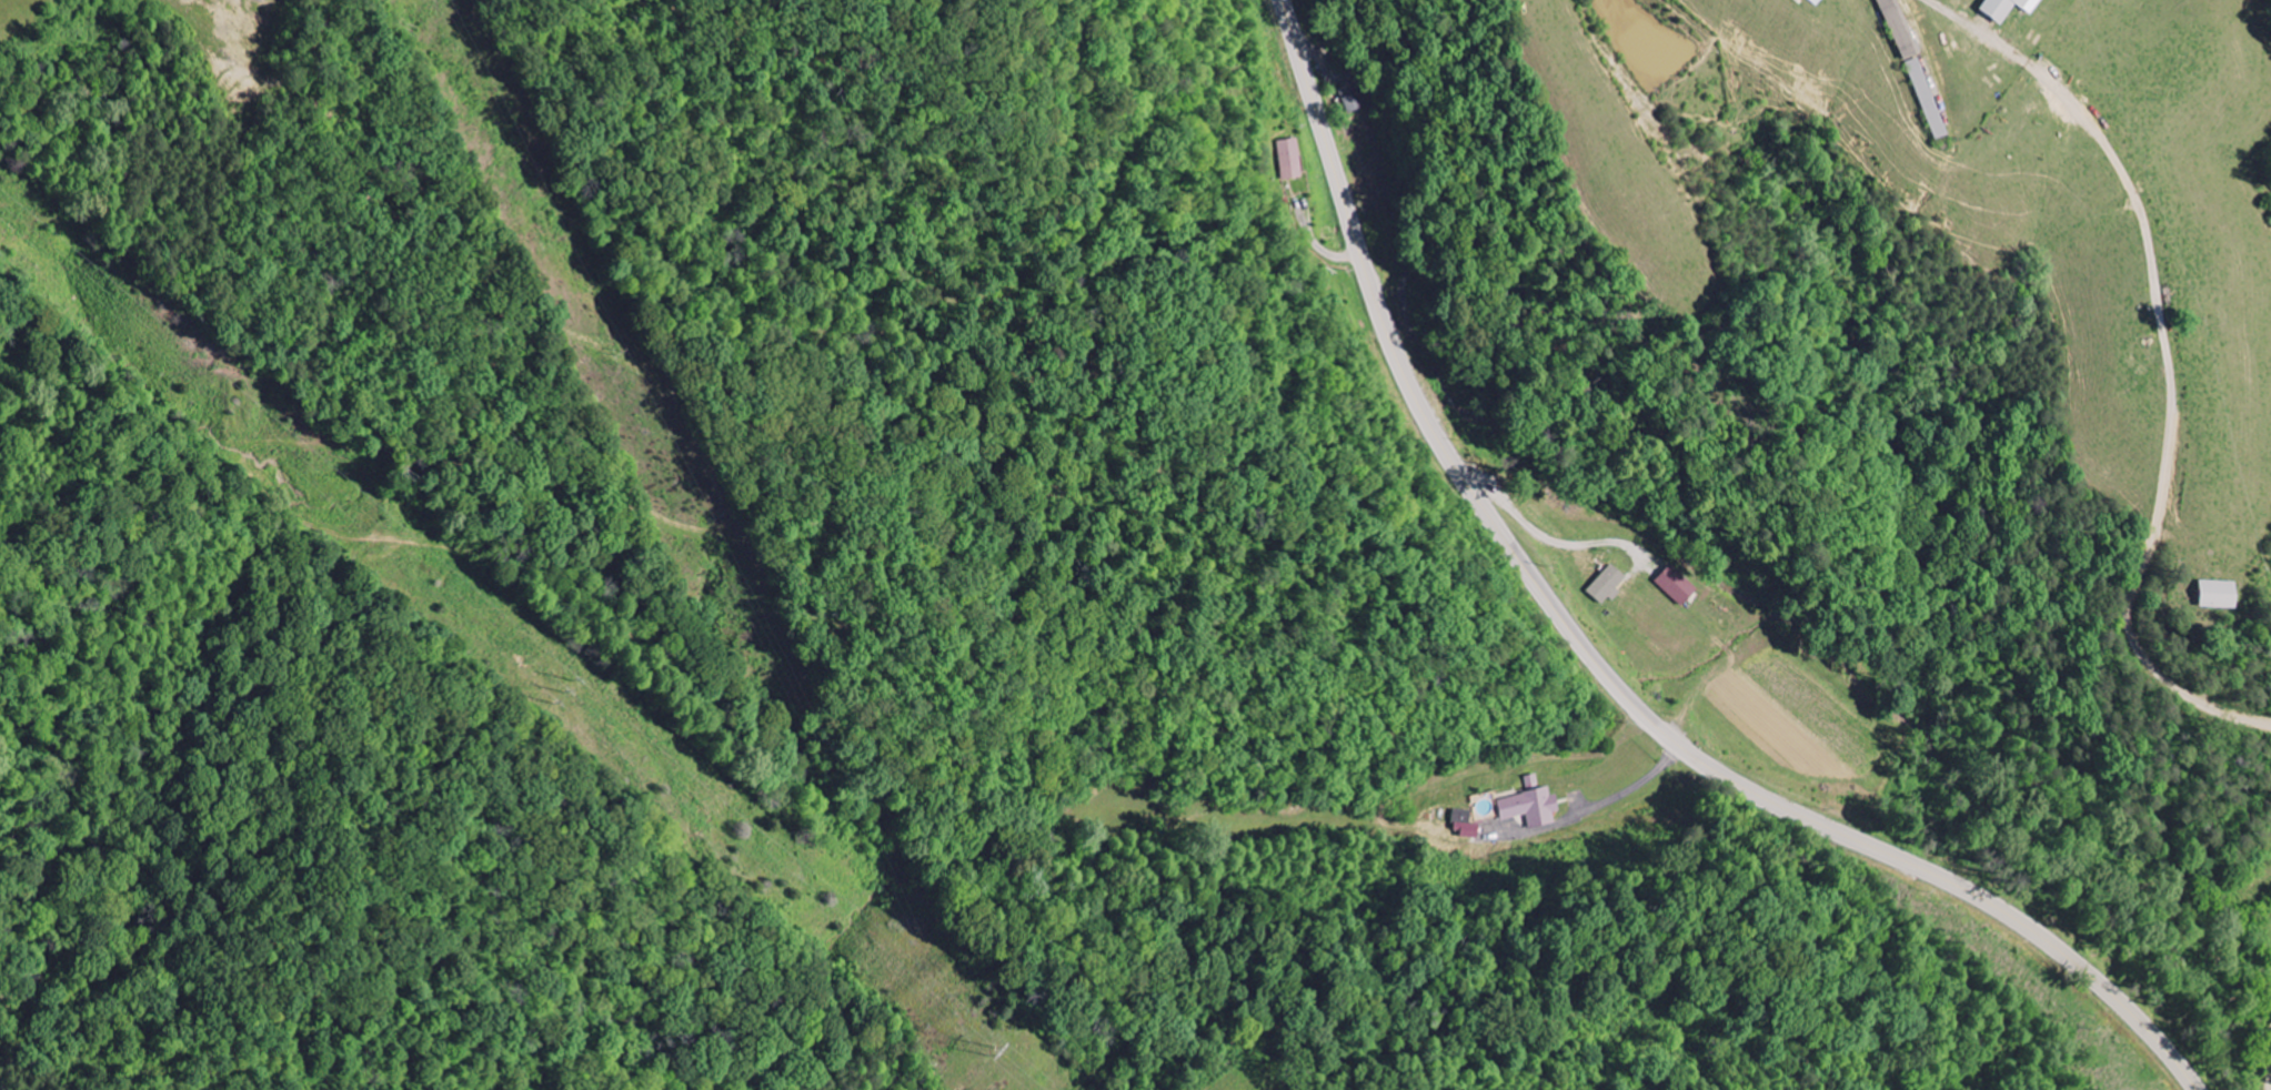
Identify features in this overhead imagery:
building: (1812, 1)
building: (2004, 8)
building: (1897, 29)
building: (1925, 99)
building: (1288, 159)
building: (1607, 584)
building: (1674, 584)
building: (2211, 594)
road: (1599, 665)
building: (1530, 807)
building: (1466, 825)
power tower: (992, 1050)

